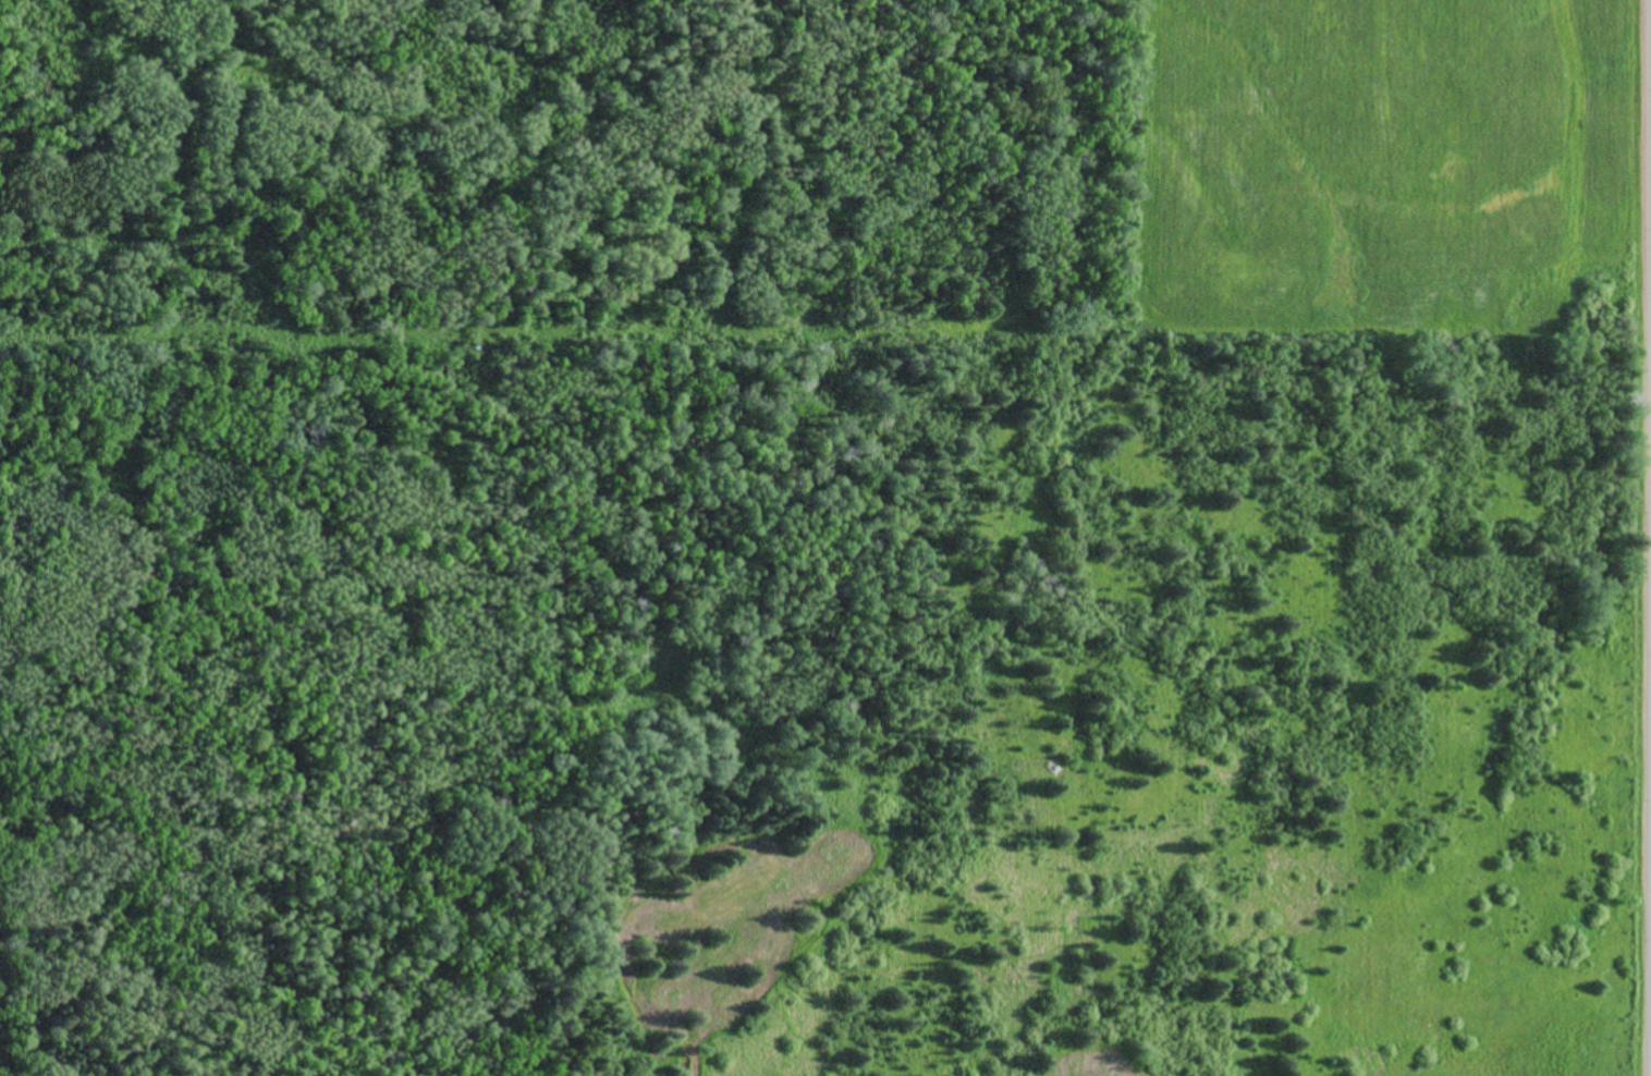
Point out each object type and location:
crop: (1390, 167)
road: (1650, 328)
road: (1650, 538)

